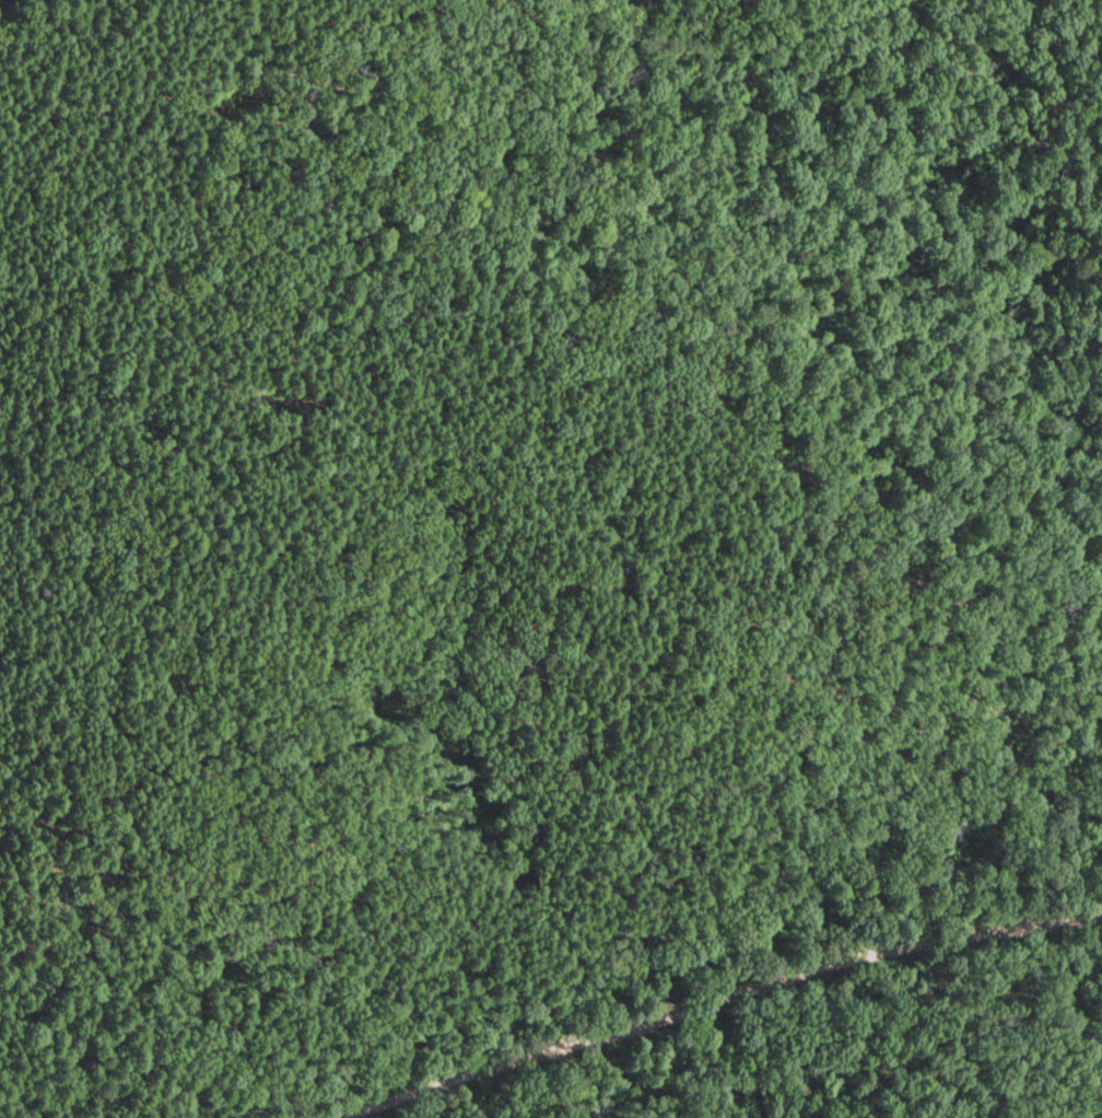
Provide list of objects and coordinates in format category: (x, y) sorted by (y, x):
road: (734, 1005)

